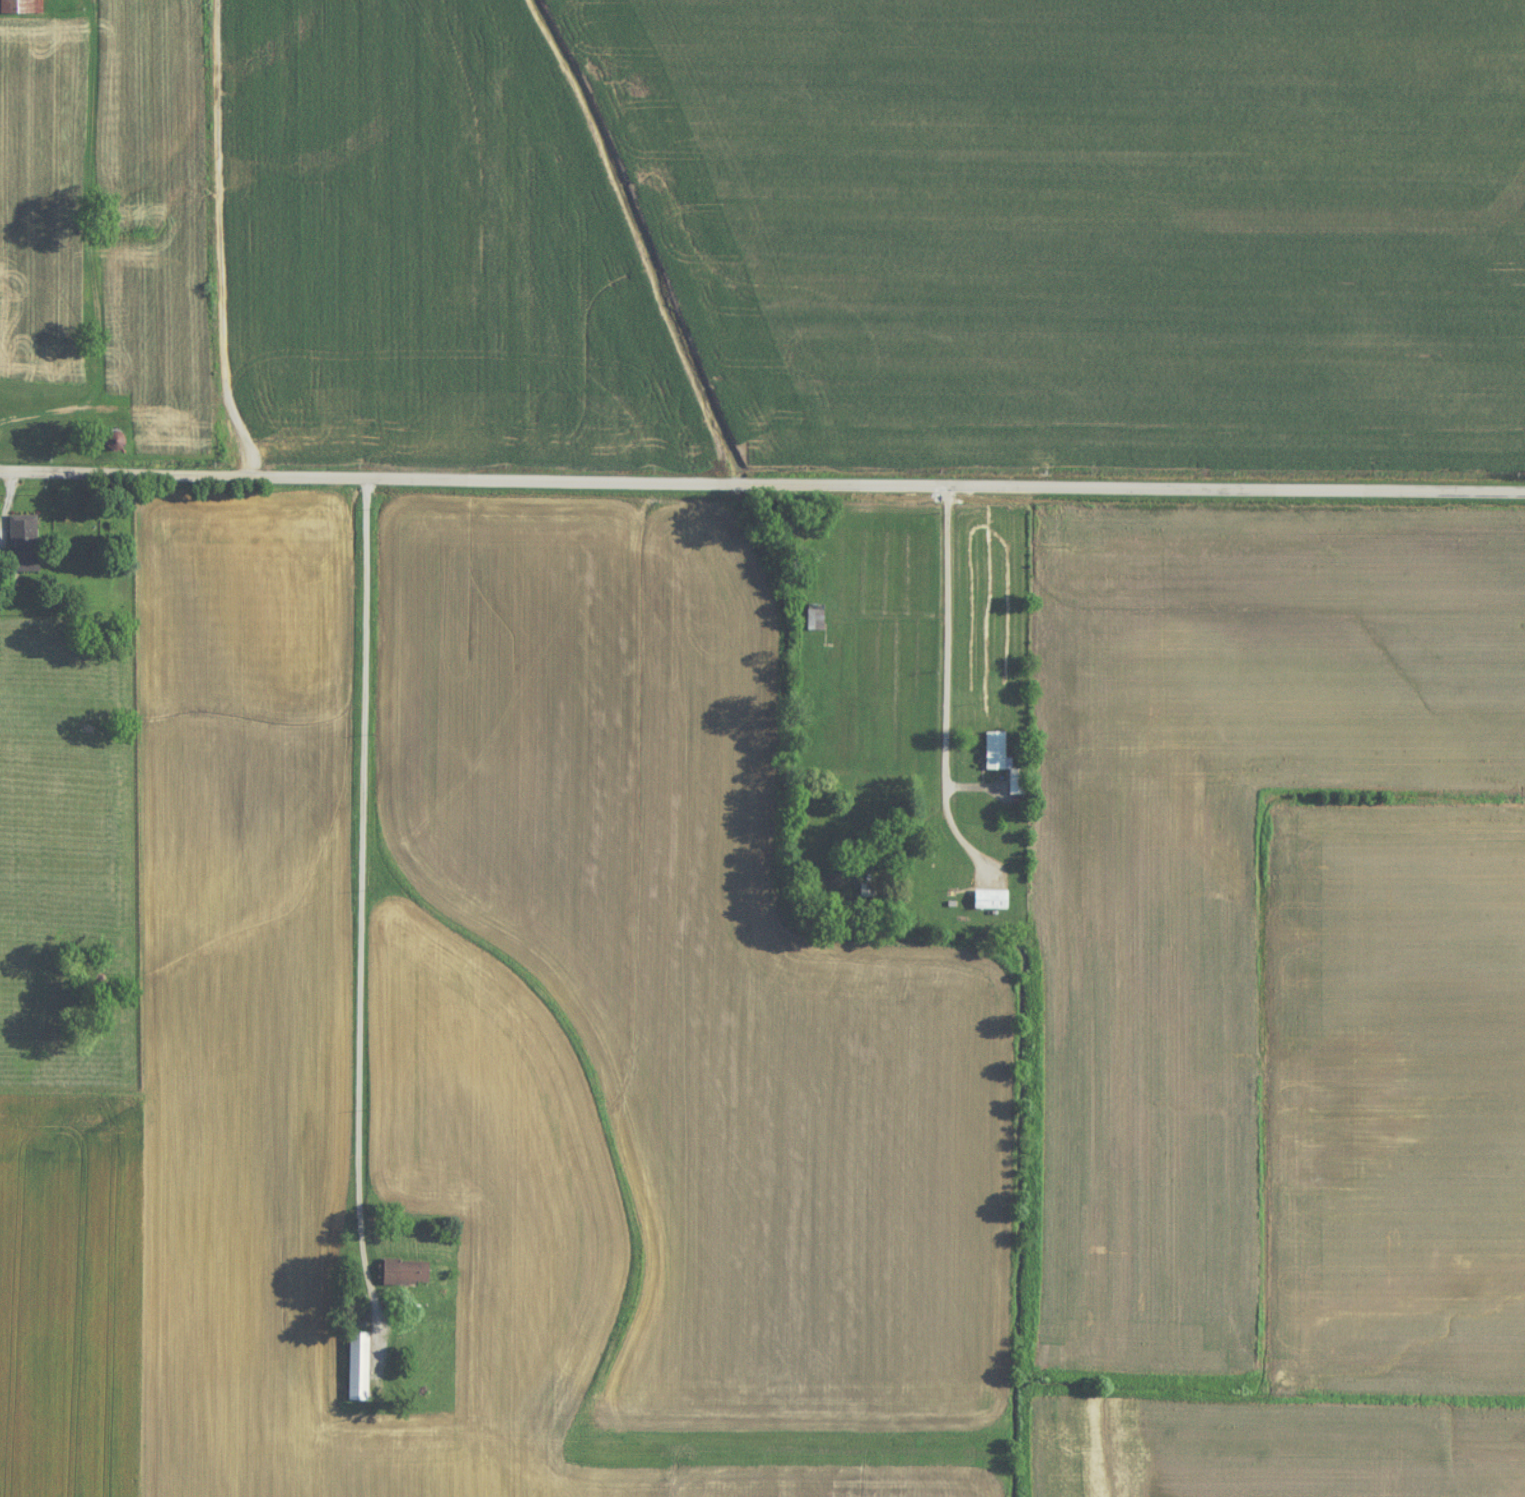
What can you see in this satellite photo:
building: (22, 7)
road: (42, 422)
road: (762, 485)
building: (25, 545)
building: (816, 619)
road: (947, 655)
building: (996, 752)
building: (1017, 783)
road: (883, 867)
road: (363, 892)
building: (991, 901)
building: (399, 1273)
building: (359, 1367)

